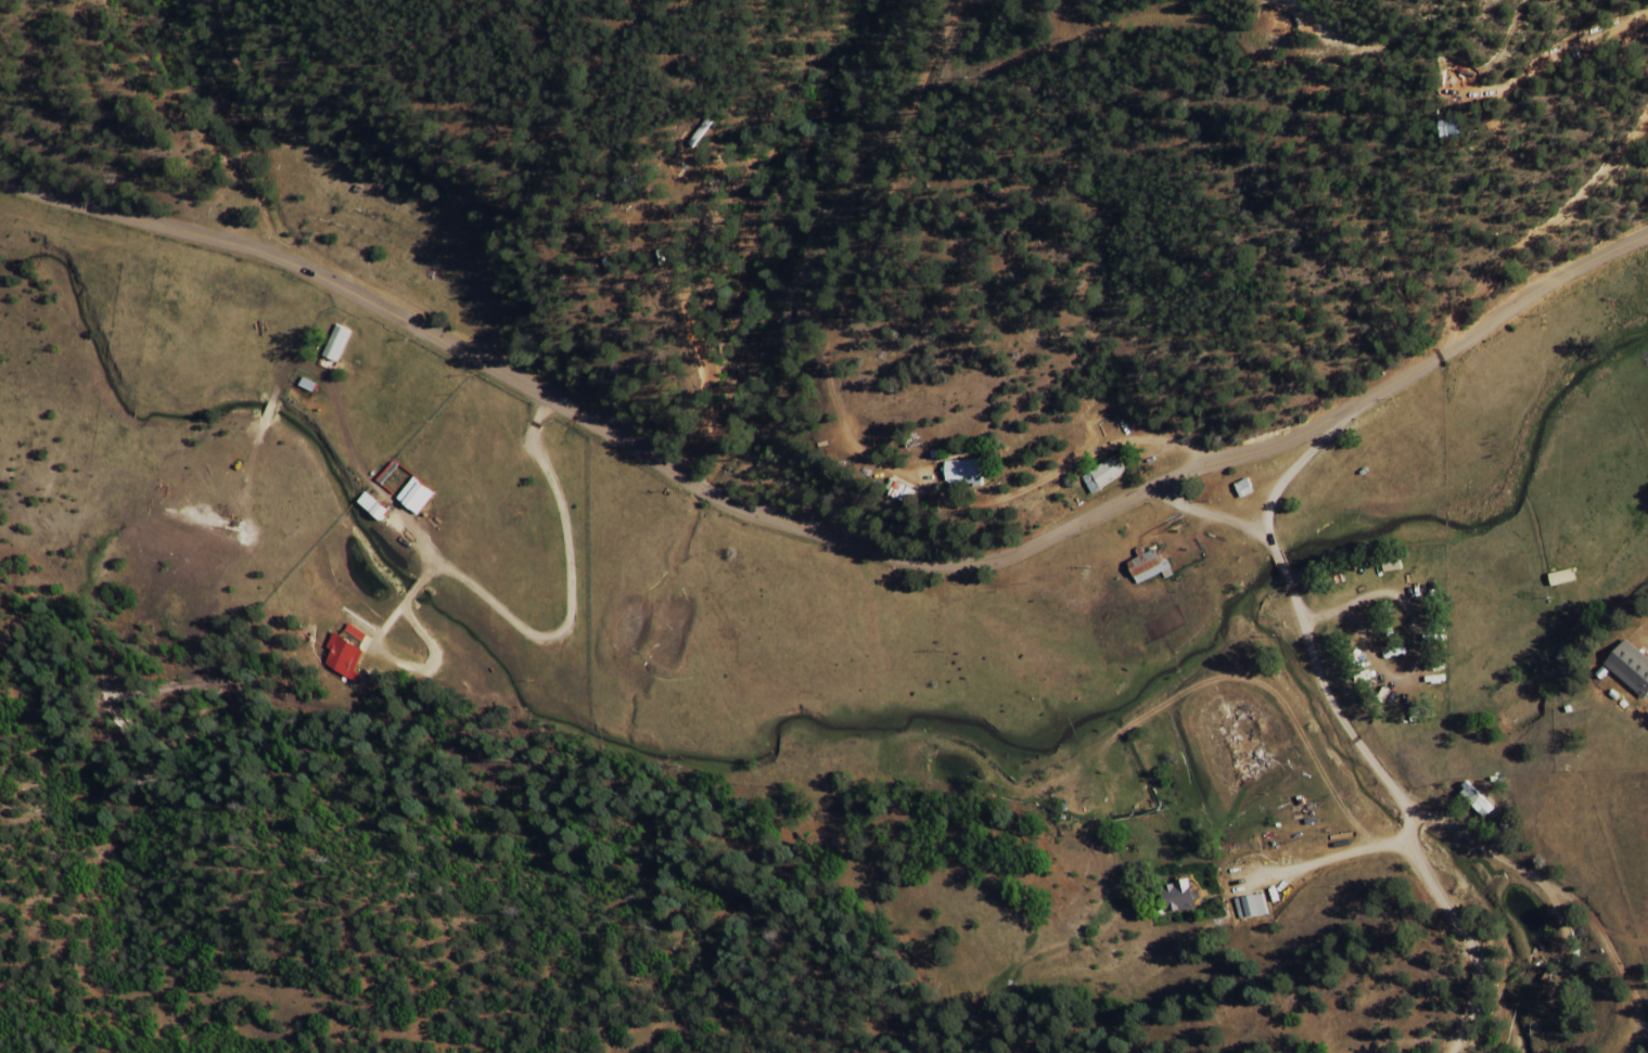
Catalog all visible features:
road: (1477, 170)
road: (1306, 453)
building: (964, 474)
building: (1103, 476)
building: (1243, 489)
building: (416, 496)
building: (372, 506)
road: (827, 534)
building: (1149, 567)
building: (1631, 669)
road: (1354, 743)
building: (1477, 800)
road: (1523, 888)
building: (1178, 896)
building: (1250, 907)

